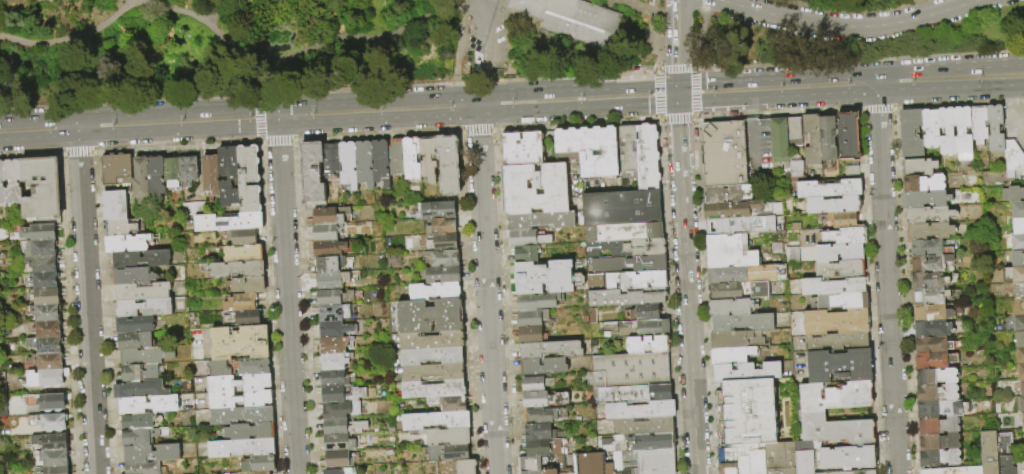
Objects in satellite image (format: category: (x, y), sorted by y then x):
road: (478, 0)
road: (582, 0)
road: (617, 0)
road: (24, 2)
road: (445, 2)
road: (703, 4)
road: (636, 5)
road: (654, 5)
road: (187, 6)
road: (27, 8)
road: (251, 8)
road: (849, 8)
road: (217, 10)
road: (84, 13)
road: (308, 13)
road: (56, 17)
road: (371, 17)
building: (571, 19)
road: (161, 23)
road: (487, 24)
road: (436, 27)
road: (843, 28)
road: (126, 30)
road: (69, 38)
road: (654, 38)
road: (698, 38)
road: (676, 41)
park: (451, 42)
road: (427, 46)
road: (459, 48)
road: (297, 51)
road: (186, 56)
road: (858, 57)
road: (32, 66)
road: (949, 66)
road: (676, 67)
road: (657, 68)
road: (655, 69)
road: (488, 71)
road: (775, 77)
road: (876, 82)
traffic signals: (676, 83)
road: (1019, 86)
road: (676, 88)
road: (694, 90)
road: (946, 90)
road: (656, 93)
road: (476, 94)
road: (1015, 96)
road: (677, 99)
road: (777, 99)
road: (476, 104)
traffic signals: (677, 104)
road: (749, 108)
road: (876, 110)
road: (138, 112)
road: (777, 112)
road: (277, 116)
road: (694, 116)
road: (657, 118)
road: (692, 118)
road: (676, 120)
road: (338, 123)
road: (575, 123)
building: (978, 123)
road: (1017, 126)
road: (77, 127)
building: (930, 128)
building: (994, 128)
building: (959, 130)
road: (477, 131)
building: (794, 131)
building: (949, 131)
building: (910, 132)
building: (847, 136)
building: (778, 140)
building: (811, 140)
building: (827, 140)
building: (627, 146)
road: (752, 147)
building: (522, 148)
building: (589, 150)
parking lot: (757, 151)
building: (723, 153)
building: (647, 154)
building: (1012, 156)
building: (395, 157)
building: (411, 158)
building: (331, 159)
building: (428, 159)
building: (380, 162)
building: (364, 163)
building: (348, 164)
building: (448, 164)
building: (795, 164)
building: (917, 166)
building: (188, 169)
building: (116, 170)
building: (171, 172)
building: (851, 172)
building: (312, 174)
building: (211, 175)
building: (228, 176)
building: (156, 177)
building: (141, 178)
building: (248, 179)
building: (13, 181)
building: (2, 182)
building: (922, 183)
building: (42, 187)
building: (828, 187)
building: (534, 188)
building: (726, 193)
building: (1012, 193)
building: (925, 198)
building: (832, 204)
building: (621, 205)
building: (114, 206)
building: (193, 209)
building: (736, 209)
building: (1017, 209)
building: (437, 210)
building: (928, 214)
building: (329, 215)
building: (842, 219)
building: (540, 220)
building: (228, 223)
road: (897, 224)
building: (743, 225)
building: (442, 226)
building: (1017, 226)
building: (122, 227)
building: (627, 230)
building: (929, 230)
building: (326, 231)
building: (40, 232)
building: (842, 235)
building: (244, 237)
building: (527, 238)
building: (442, 242)
building: (1017, 242)
building: (126, 244)
building: (626, 247)
building: (928, 247)
building: (42, 248)
building: (328, 248)
building: (730, 251)
building: (838, 252)
building: (526, 253)
building: (243, 254)
building: (3, 255)
building: (443, 257)
building: (1017, 258)
building: (141, 259)
building: (392, 260)
building: (1, 261)
building: (928, 262)
building: (626, 263)
building: (45, 264)
building: (332, 264)
building: (839, 268)
building: (233, 270)
building: (443, 274)
building: (745, 274)
building: (1014, 274)
building: (133, 276)
building: (544, 277)
building: (46, 280)
building: (332, 280)
building: (634, 280)
building: (928, 280)
road: (887, 283)
building: (248, 286)
building: (832, 286)
road: (686, 288)
building: (1018, 290)
building: (435, 291)
building: (725, 291)
building: (142, 292)
road: (870, 292)
road: (486, 294)
road: (703, 295)
building: (929, 295)
building: (47, 296)
road: (667, 296)
building: (334, 297)
building: (628, 298)
road: (287, 300)
building: (536, 301)
building: (840, 301)
road: (504, 302)
building: (242, 303)
road: (86, 306)
building: (730, 307)
building: (1018, 307)
building: (144, 308)
building: (47, 312)
building: (931, 312)
building: (334, 313)
building: (644, 314)
building: (429, 316)
building: (244, 318)
building: (531, 318)
building: (834, 321)
building: (741, 322)
building: (1018, 323)
building: (133, 325)
building: (49, 328)
building: (932, 328)
building: (336, 330)
building: (642, 330)
building: (531, 335)
building: (735, 339)
building: (1019, 339)
building: (431, 340)
building: (836, 341)
building: (127, 342)
building: (240, 343)
building: (46, 344)
building: (932, 344)
building: (334, 345)
building: (647, 346)
building: (549, 349)
building: (432, 355)
building: (731, 355)
building: (1019, 355)
building: (145, 356)
building: (47, 360)
building: (934, 360)
building: (335, 361)
building: (839, 365)
building: (254, 366)
building: (543, 366)
building: (219, 369)
building: (433, 371)
building: (631, 371)
building: (746, 371)
building: (1020, 371)
building: (131, 373)
building: (936, 376)
building: (47, 377)
building: (335, 378)
building: (239, 384)
building: (535, 384)
building: (1021, 388)
building: (139, 389)
building: (433, 389)
building: (936, 393)
building: (342, 394)
building: (632, 395)
building: (542, 399)
building: (240, 400)
building: (53, 401)
building: (449, 403)
building: (1021, 404)
building: (149, 405)
building: (942, 408)
building: (341, 409)
building: (637, 411)
building: (751, 411)
building: (812, 414)
building: (241, 415)
building: (541, 416)
building: (436, 419)
building: (1022, 420)
building: (54, 421)
building: (137, 422)
building: (937, 425)
building: (342, 426)
building: (642, 426)
building: (249, 432)
building: (538, 432)
building: (447, 435)
building: (138, 437)
building: (651, 441)
building: (937, 441)
building: (56, 442)
building: (338, 443)
building: (542, 447)
building: (241, 448)
building: (449, 452)
building: (152, 453)
building: (988, 453)
building: (1005, 456)
building: (803, 457)
building: (847, 457)
building: (938, 457)
building: (53, 458)
building: (755, 458)
building: (779, 458)
building: (338, 459)
building: (733, 460)
building: (655, 461)
building: (629, 462)
building: (259, 464)
building: (590, 464)
building: (464, 466)
building: (530, 466)
building: (142, 468)
building: (608, 468)
building: (1020, 468)
building: (54, 470)
building: (953, 470)
building: (340, 471)
building: (549, 471)
building: (849, 472)
building: (206, 473)
building: (260, 473)
building: (567, 473)

